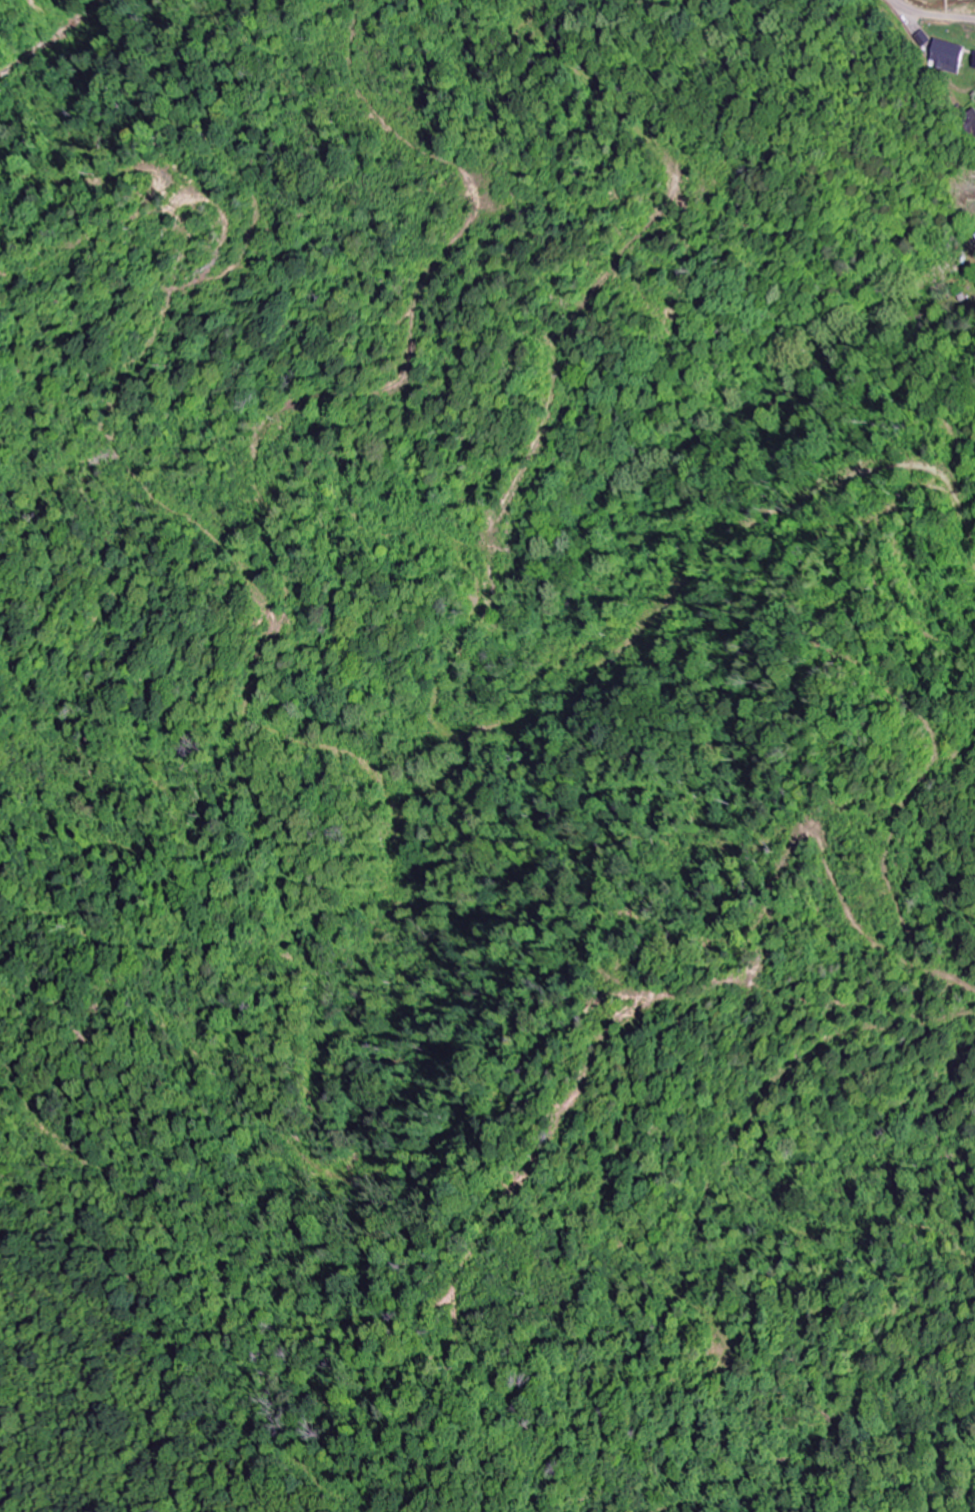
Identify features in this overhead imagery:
road: (931, 12)
building: (947, 55)
building: (968, 122)

